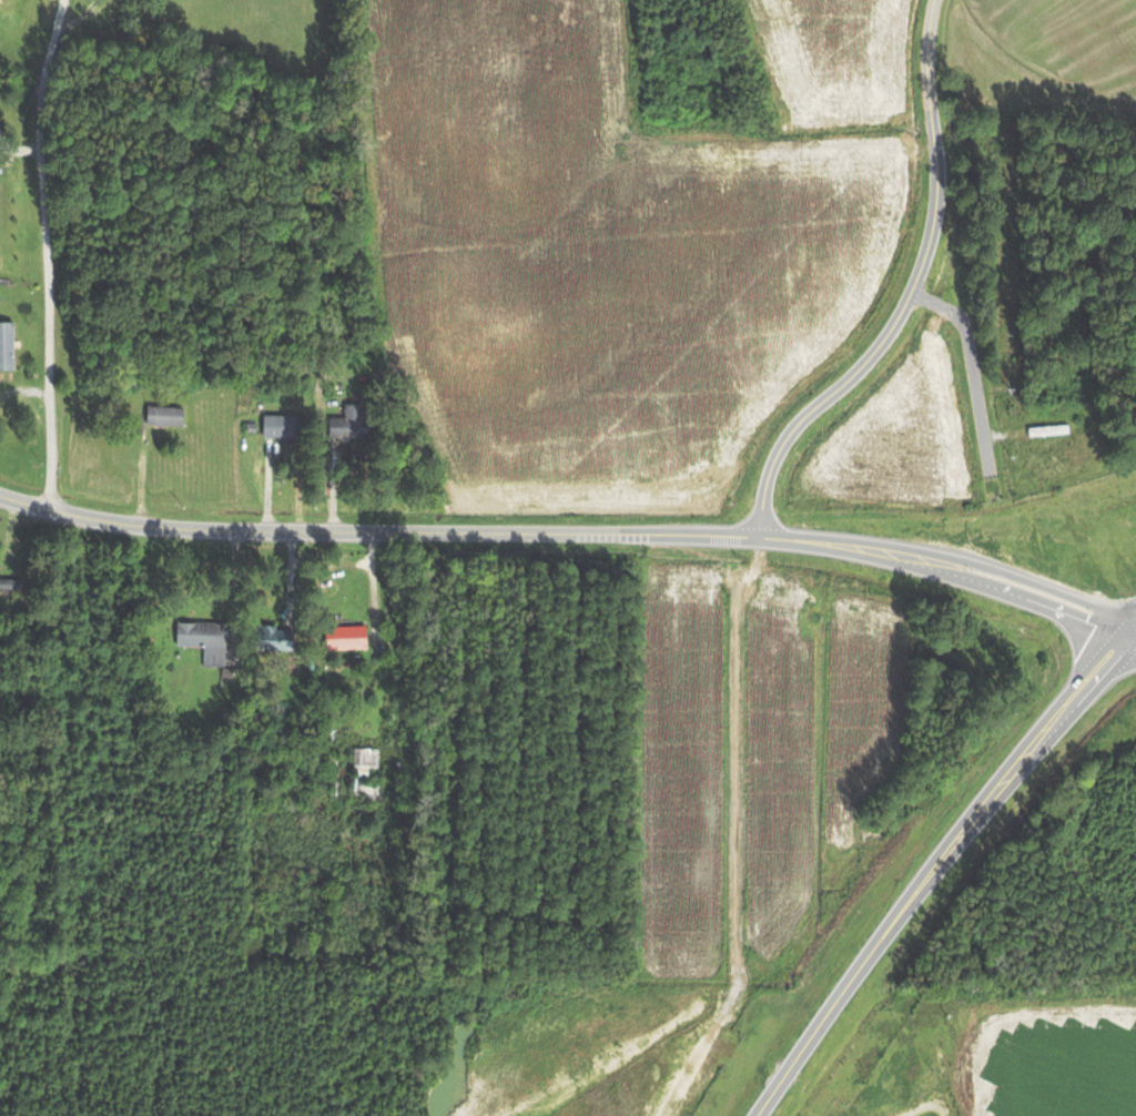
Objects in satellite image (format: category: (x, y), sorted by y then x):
park: (1071, 145)
road: (48, 254)
road: (906, 290)
building: (6, 346)
building: (163, 416)
building: (345, 423)
building: (278, 426)
road: (468, 532)
building: (9, 581)
road: (1039, 585)
road: (1035, 601)
building: (1039, 618)
building: (343, 638)
building: (271, 639)
building: (202, 640)
building: (326, 768)
building: (363, 774)
road: (1004, 780)
road: (818, 1027)

